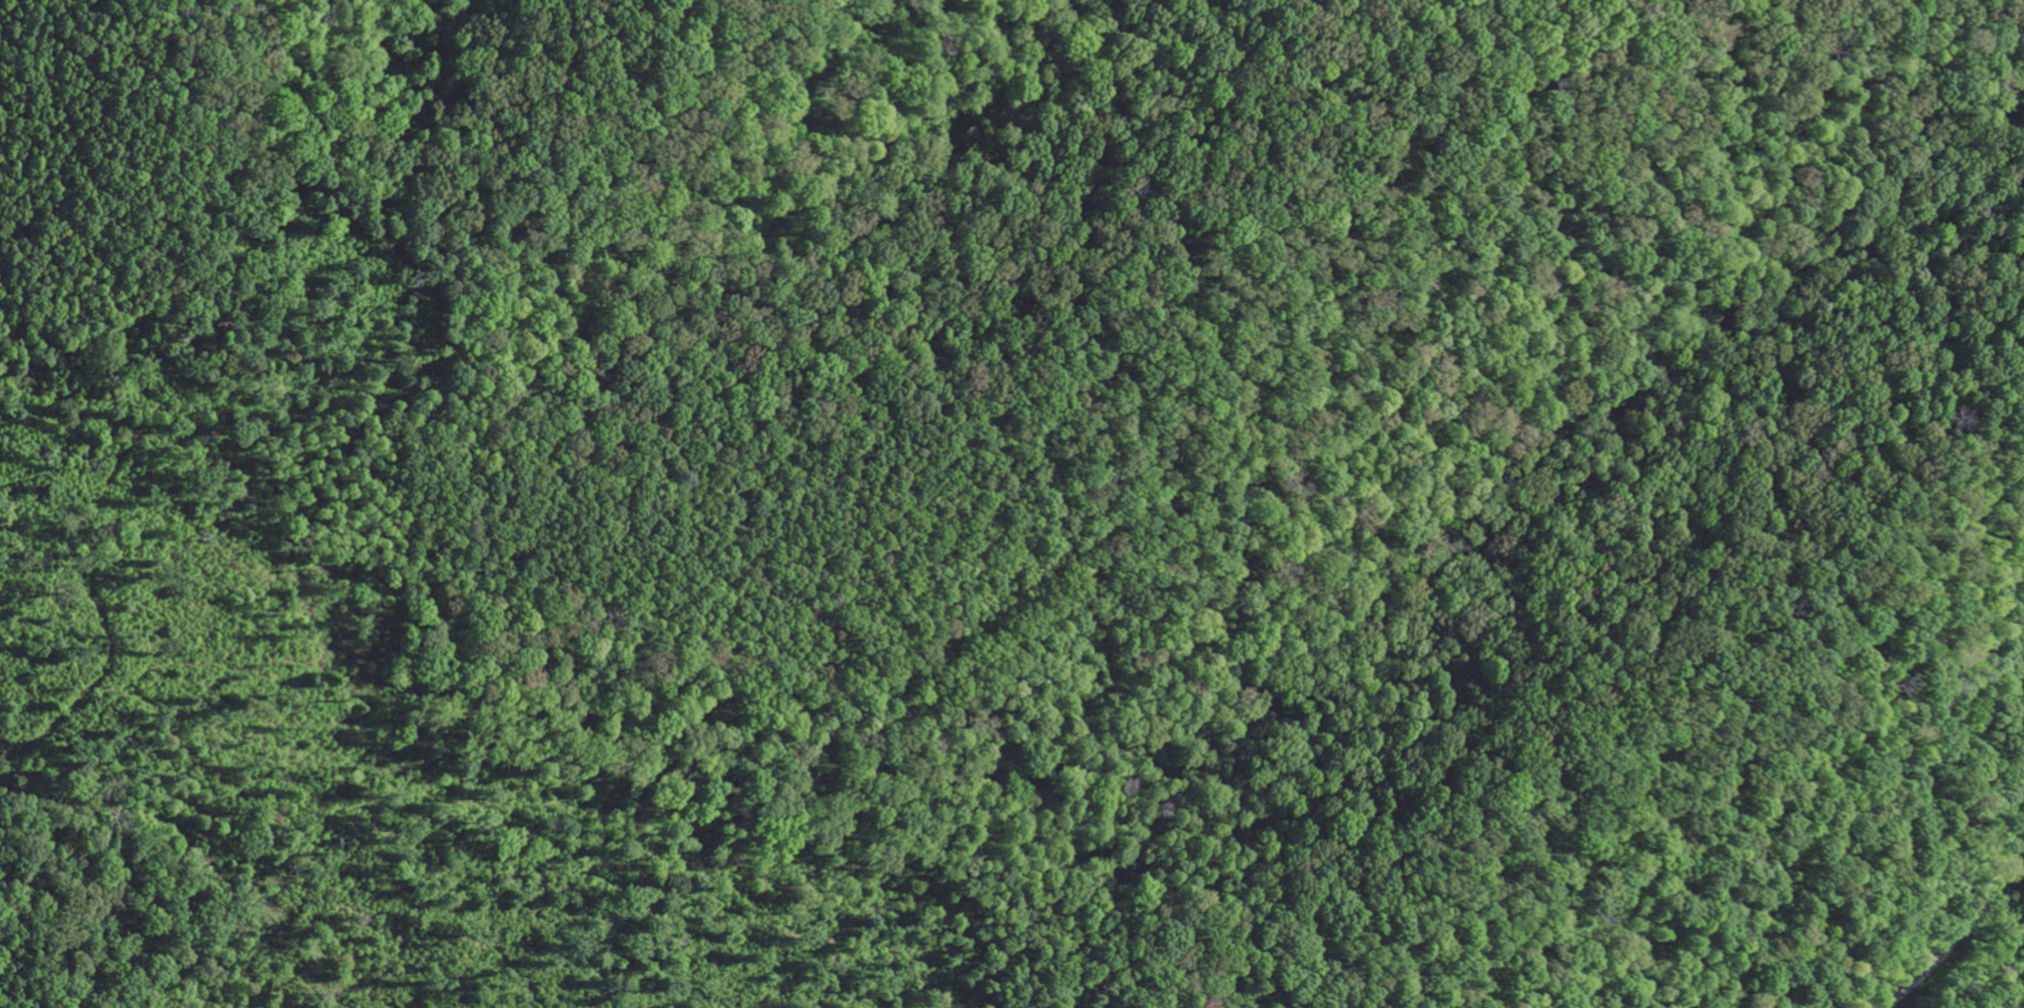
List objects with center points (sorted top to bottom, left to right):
road: (1960, 932)
road: (2013, 997)

